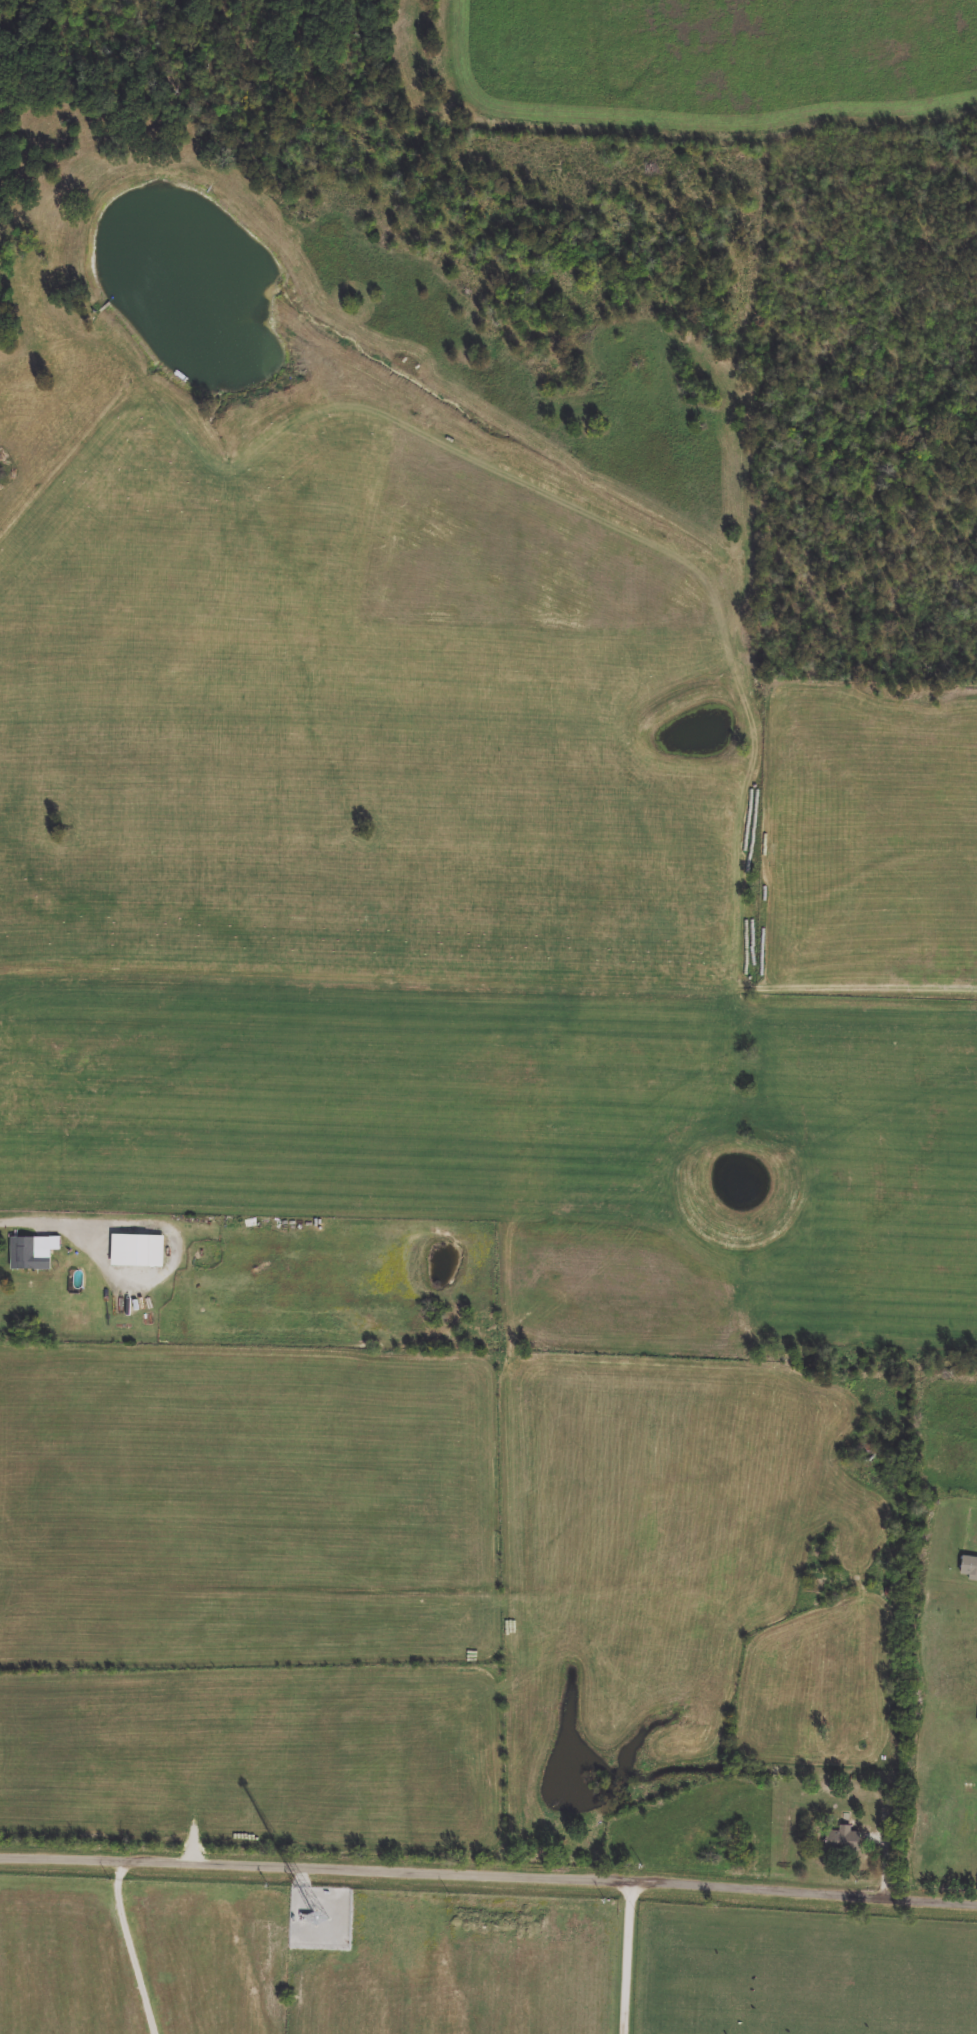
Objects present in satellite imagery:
road: (25, 1218)
building: (35, 1252)
building: (139, 1252)
building: (969, 1567)
building: (843, 1837)
road: (887, 1861)
road: (488, 1876)
road: (134, 1948)
road: (632, 1956)

